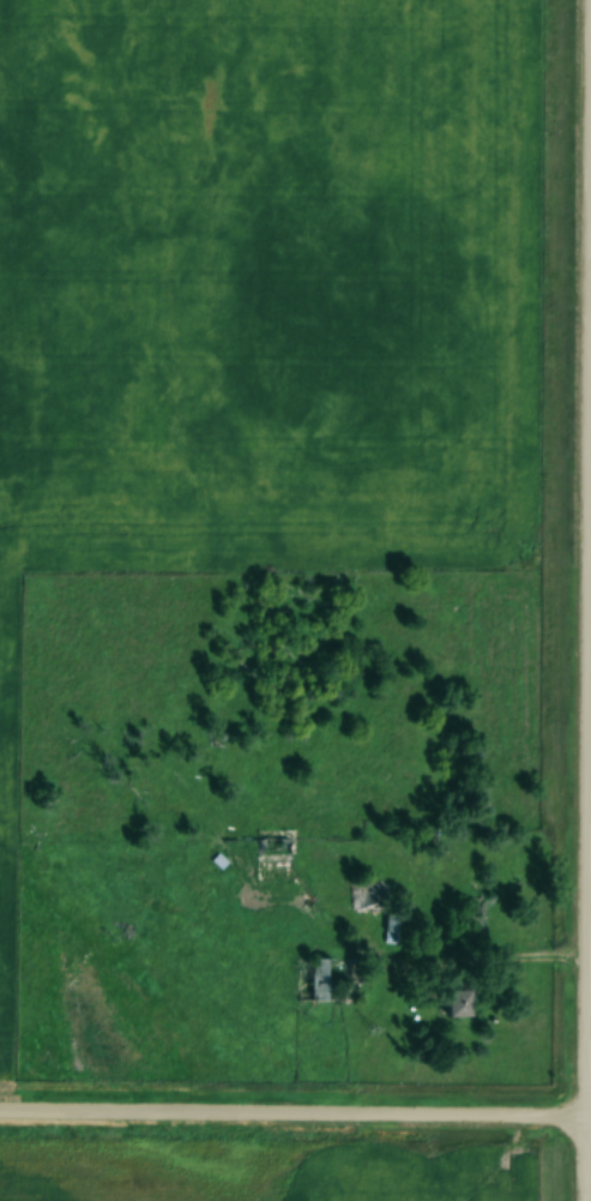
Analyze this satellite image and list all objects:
building: (362, 896)
building: (391, 929)
road: (501, 956)
building: (318, 981)
building: (458, 1002)
road: (581, 1091)
road: (295, 1110)

